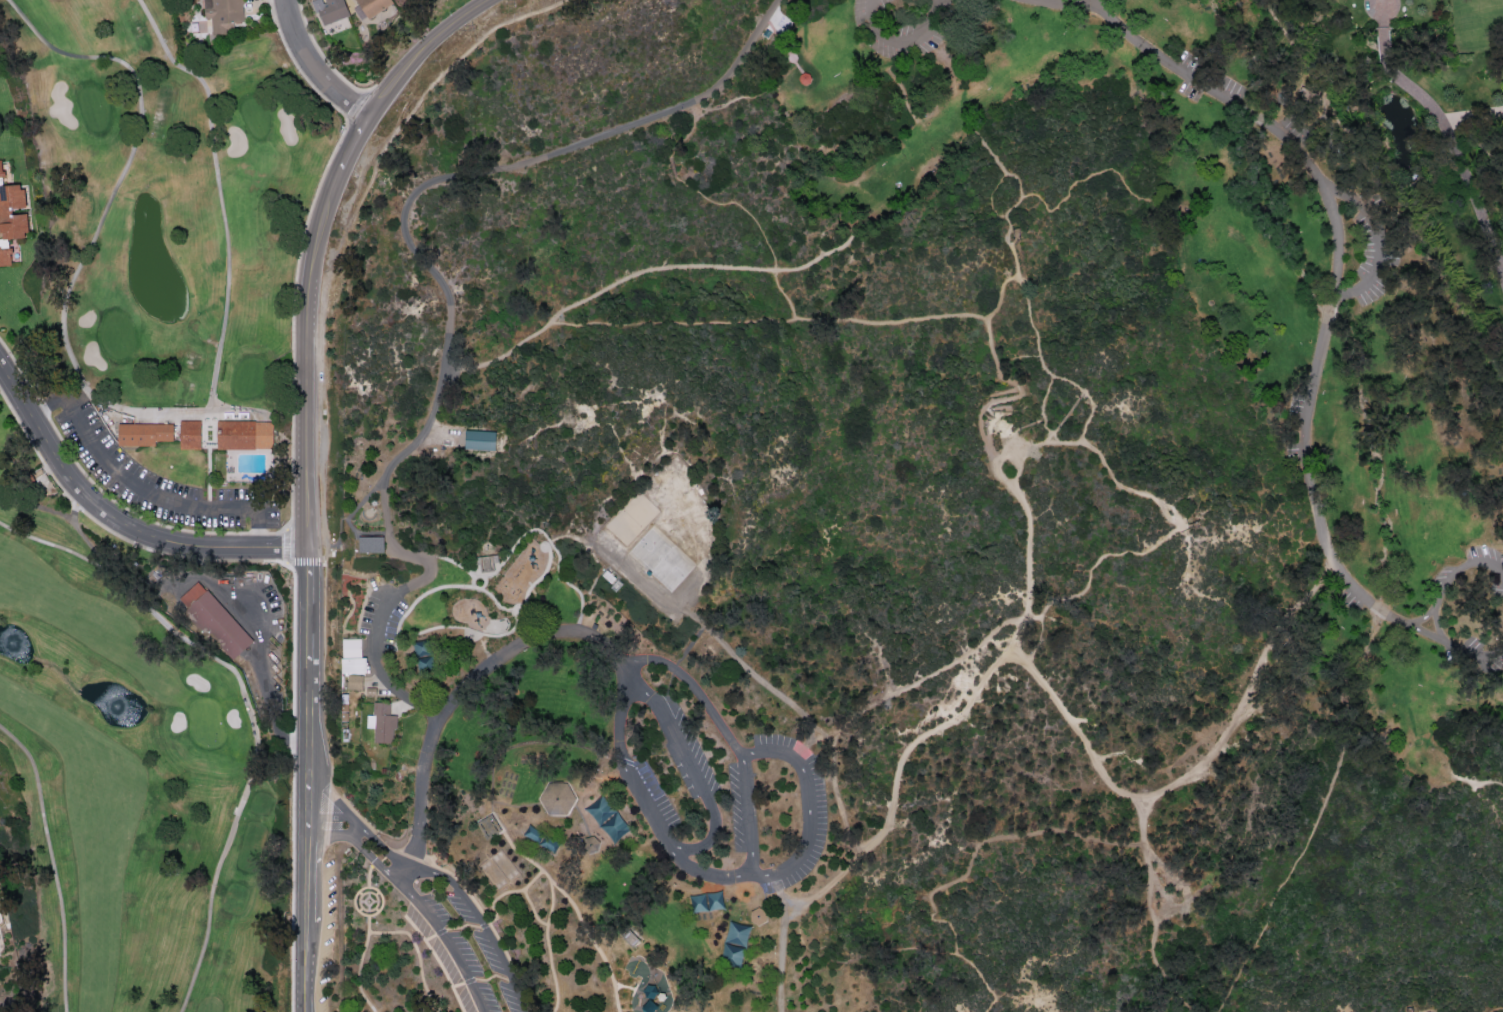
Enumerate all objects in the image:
road: (932, 1)
road: (1071, 1)
building: (373, 6)
building: (330, 10)
building: (222, 14)
road: (900, 40)
road: (784, 47)
road: (316, 69)
building: (804, 78)
road: (690, 112)
road: (1473, 116)
road: (370, 124)
road: (1448, 130)
road: (1385, 177)
road: (1120, 180)
road: (699, 193)
road: (1030, 196)
road: (993, 199)
road: (409, 211)
building: (11, 217)
road: (1015, 238)
road: (1376, 238)
park: (176, 262)
road: (641, 274)
road: (1336, 275)
road: (1020, 287)
road: (768, 323)
road: (1008, 380)
road: (1045, 389)
road: (76, 392)
road: (1086, 395)
road: (118, 407)
road: (1067, 412)
road: (1028, 425)
road: (1044, 427)
road: (547, 428)
building: (201, 433)
road: (1007, 436)
road: (1052, 436)
building: (478, 440)
road: (1039, 443)
road: (1018, 466)
road: (999, 473)
parking lot: (154, 474)
parking lot: (155, 474)
road: (143, 487)
road: (37, 505)
road: (1170, 520)
park: (915, 521)
road: (116, 522)
road: (1192, 525)
road: (1180, 527)
road: (575, 539)
building: (370, 543)
road: (553, 545)
road: (152, 550)
park: (661, 560)
road: (452, 561)
building: (486, 563)
parking lot: (1454, 568)
road: (477, 588)
road: (419, 598)
parking lot: (1349, 600)
road: (497, 603)
road: (1434, 608)
road: (379, 612)
road: (1420, 616)
building: (215, 621)
road: (1042, 622)
road: (1423, 631)
road: (503, 634)
road: (309, 646)
road: (726, 646)
parking lot: (1482, 652)
building: (352, 656)
road: (658, 661)
road: (262, 670)
building: (355, 681)
road: (920, 682)
building: (370, 691)
road: (394, 691)
road: (644, 691)
road: (458, 696)
road: (245, 706)
building: (383, 722)
road: (537, 742)
road: (688, 761)
road: (1477, 783)
road: (293, 785)
road: (1113, 787)
road: (641, 794)
parking lot: (725, 797)
building: (556, 798)
road: (893, 800)
road: (498, 803)
road: (807, 809)
building: (600, 810)
road: (747, 815)
road: (332, 816)
building: (487, 826)
building: (614, 827)
building: (533, 834)
road: (374, 840)
road: (706, 841)
building: (548, 843)
building: (590, 843)
road: (368, 853)
building: (379, 856)
road: (51, 864)
road: (1297, 864)
road: (696, 871)
road: (368, 872)
road: (510, 891)
road: (360, 892)
road: (377, 892)
road: (356, 894)
road: (368, 894)
road: (362, 901)
road: (373, 901)
road: (375, 901)
building: (714, 901)
building: (698, 902)
road: (360, 903)
road: (369, 907)
road: (533, 908)
road: (360, 909)
road: (376, 910)
road: (934, 910)
road: (1150, 911)
road: (550, 913)
building: (757, 915)
road: (486, 918)
road: (368, 923)
road: (484, 924)
road: (463, 925)
road: (440, 931)
building: (737, 934)
road: (430, 937)
building: (630, 938)
road: (592, 942)
road: (496, 948)
parking lot: (466, 950)
road: (339, 951)
road: (452, 951)
road: (418, 953)
building: (731, 956)
road: (779, 958)
road: (437, 961)
road: (358, 973)
road: (489, 978)
road: (469, 980)
road: (977, 980)
road: (457, 984)
road: (623, 985)
road: (1408, 1010)
road: (1496, 1010)

